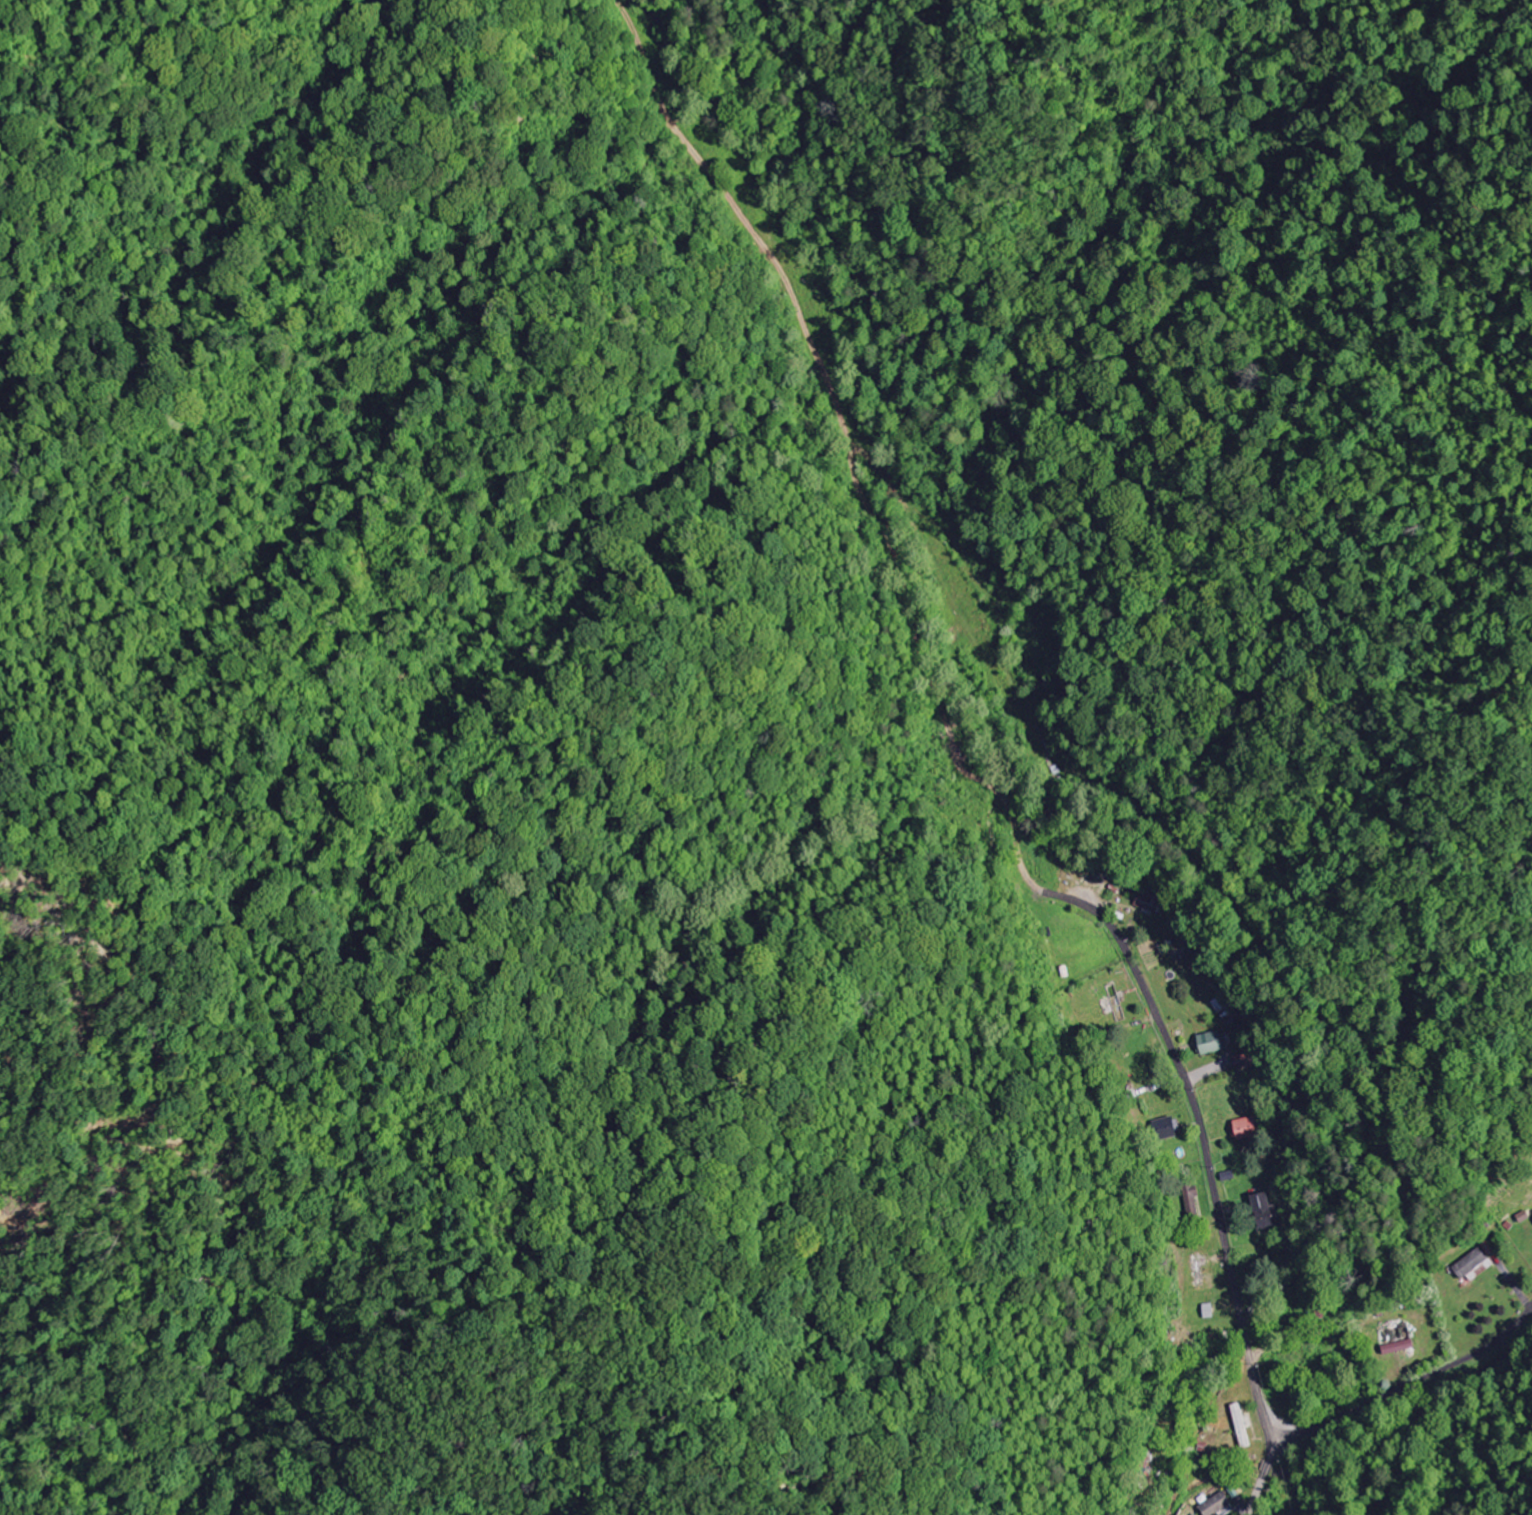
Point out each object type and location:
building: (1147, 904)
building: (1246, 1061)
building: (1247, 1129)
road: (1207, 1146)
building: (1270, 1211)
building: (1469, 1264)
building: (1400, 1347)
road: (1411, 1383)
road: (1264, 1478)
building: (1218, 1505)
road: (1248, 1514)

